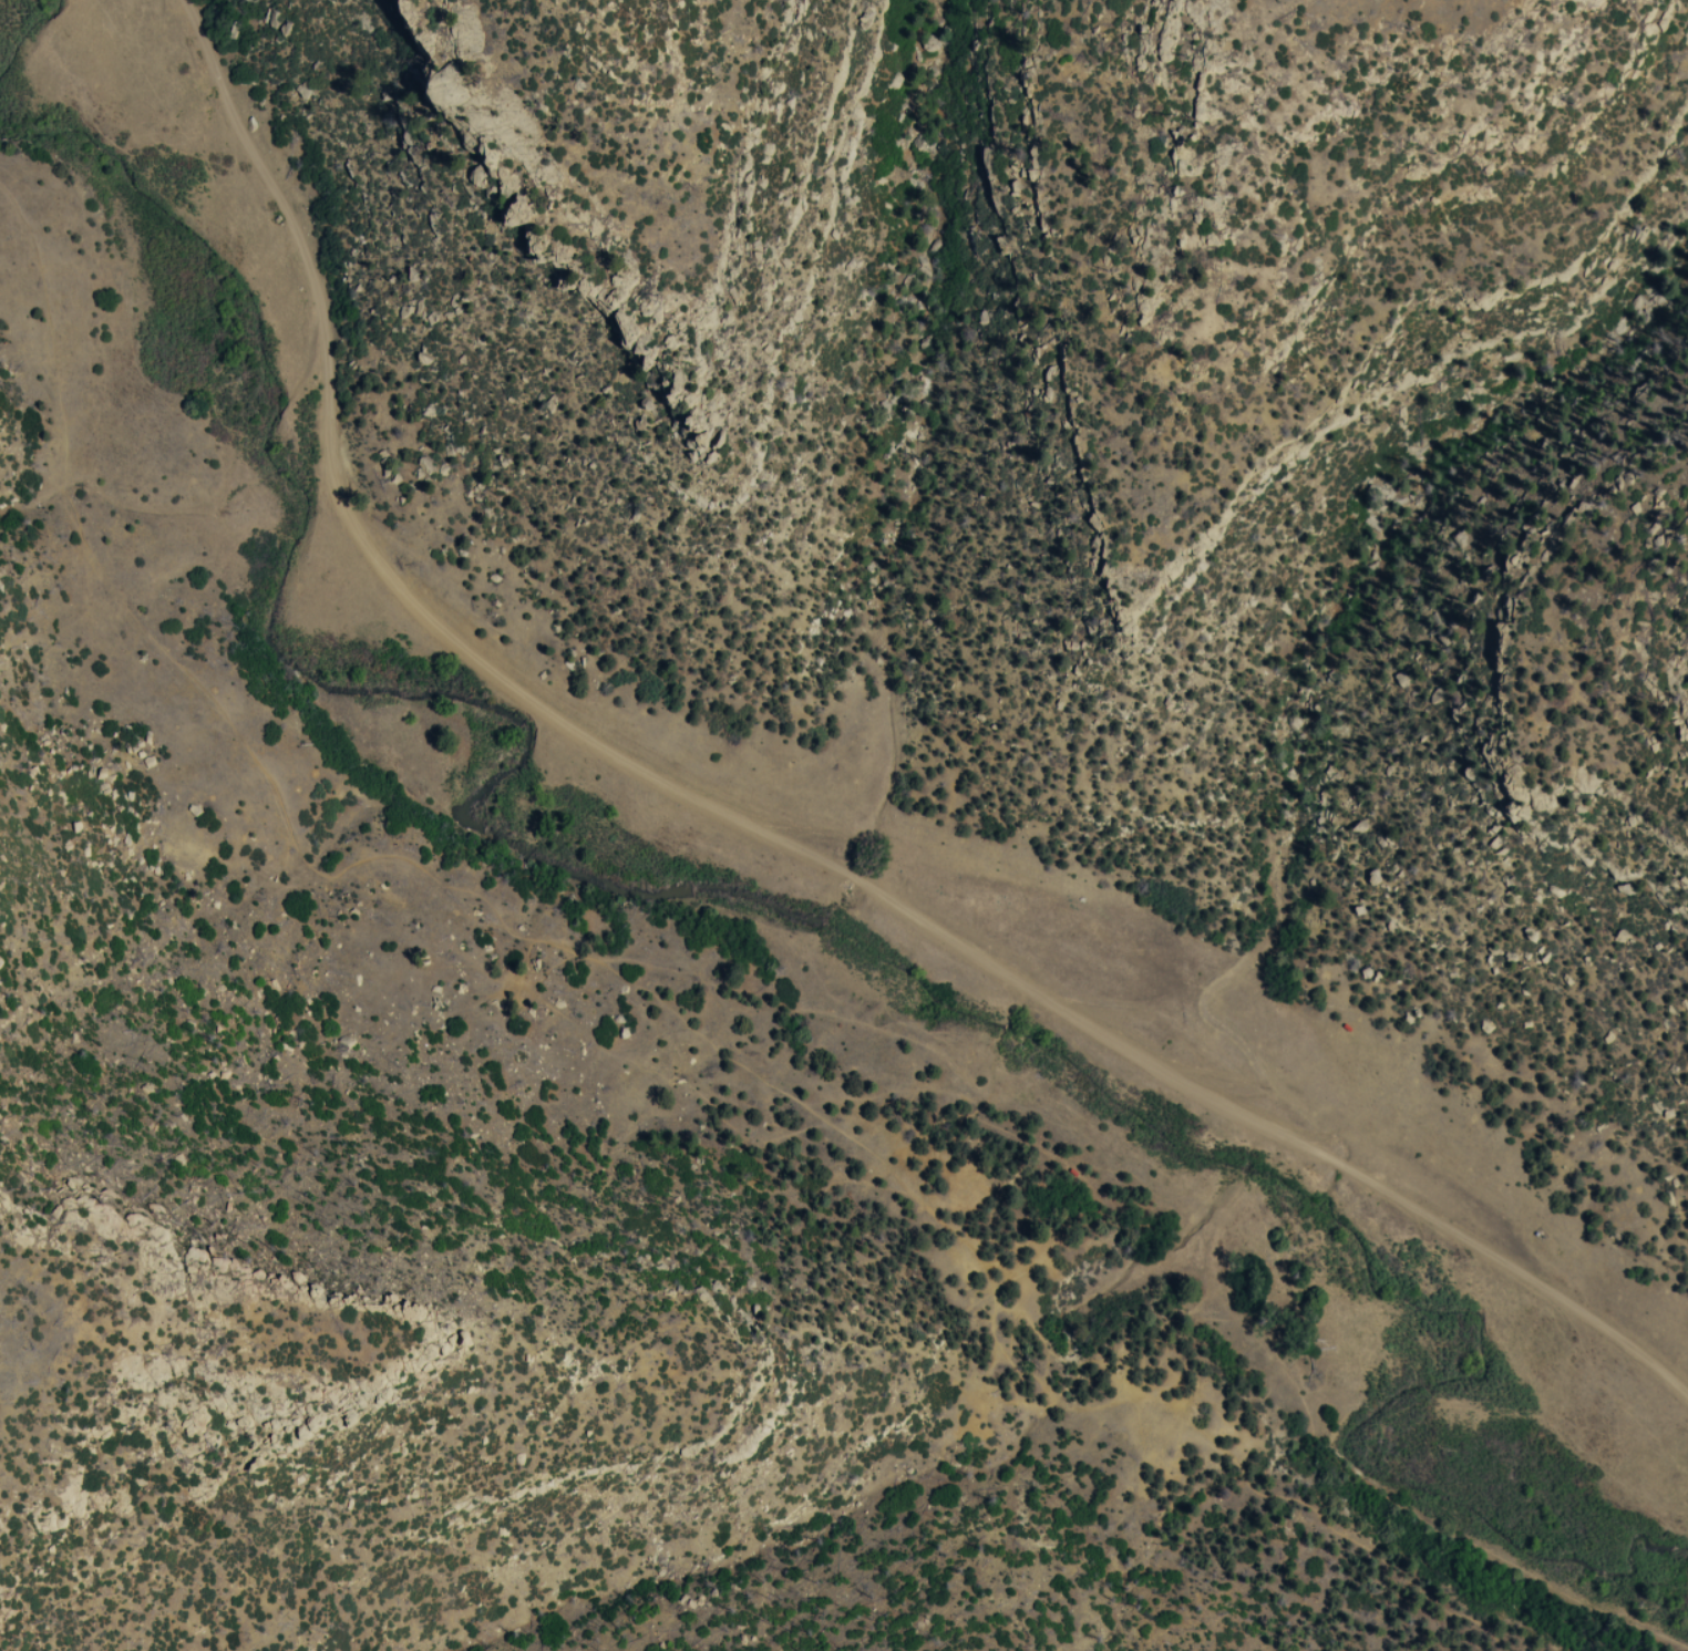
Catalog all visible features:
road: (768, 829)
road: (361, 861)
building: (1350, 1029)
building: (1075, 1172)
storage tank: (1542, 1236)
road: (1256, 1489)

